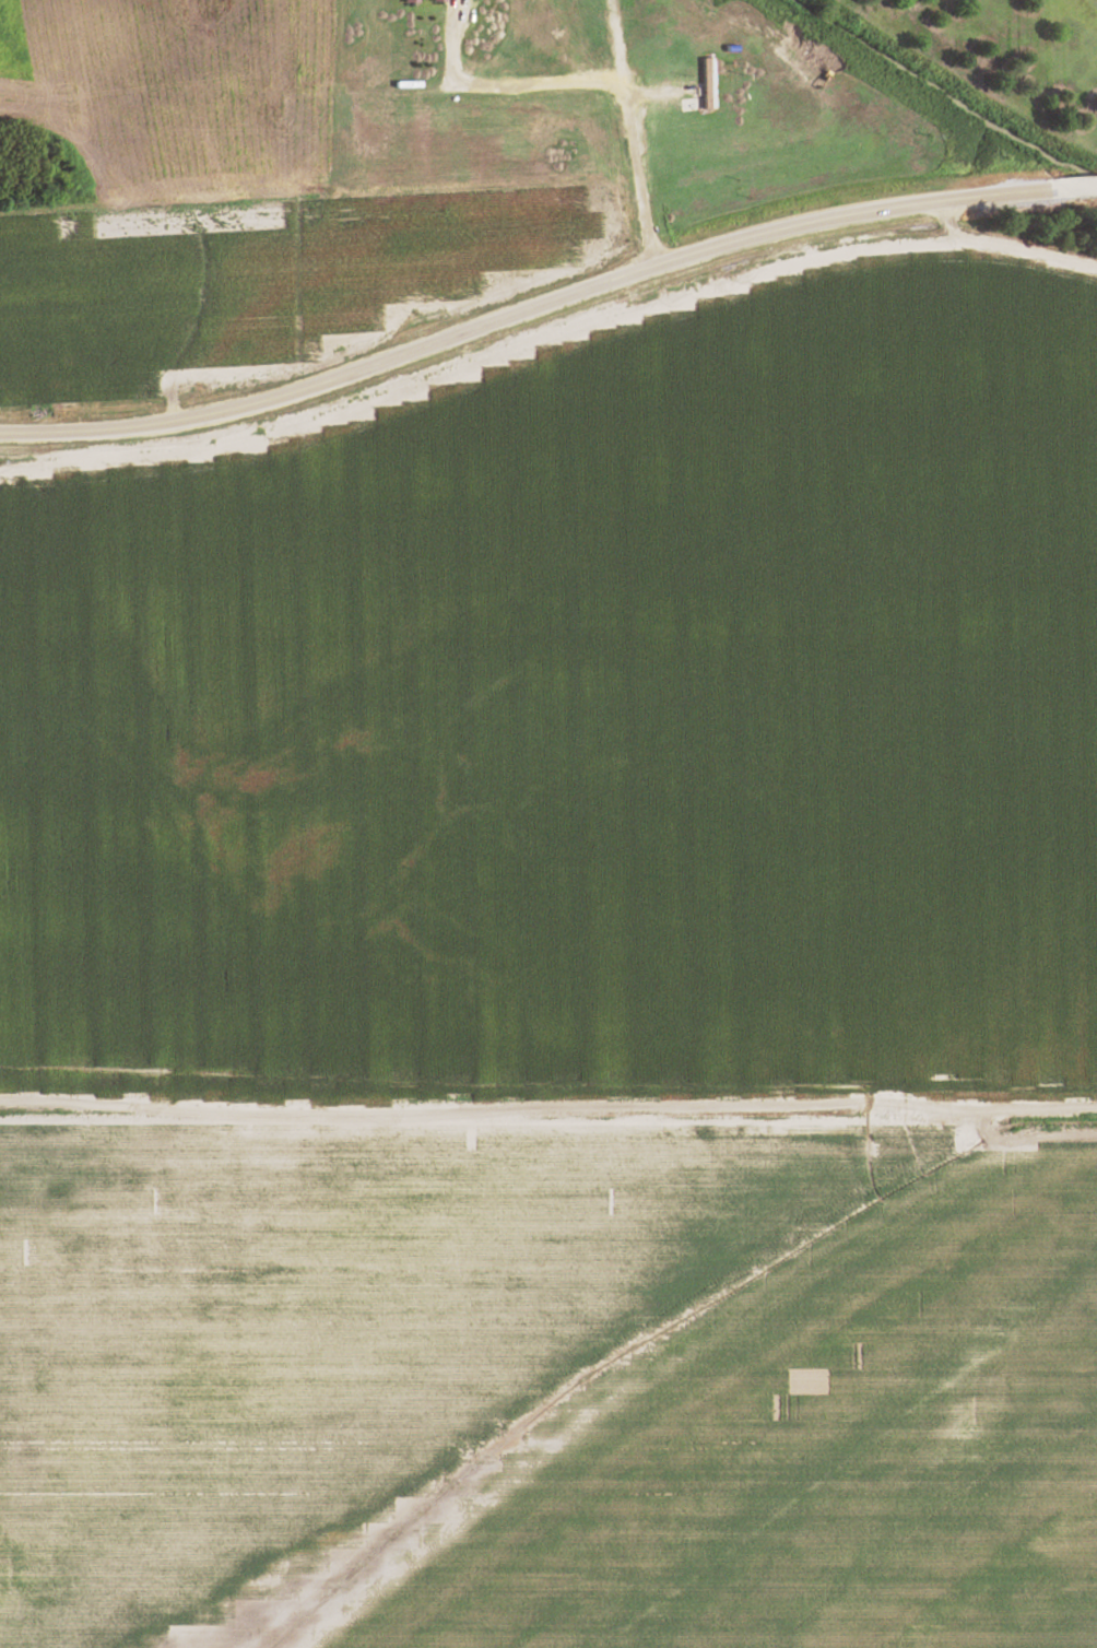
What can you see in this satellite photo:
building: (414, 1)
building: (699, 84)
building: (605, 119)
road: (623, 136)
road: (545, 301)

